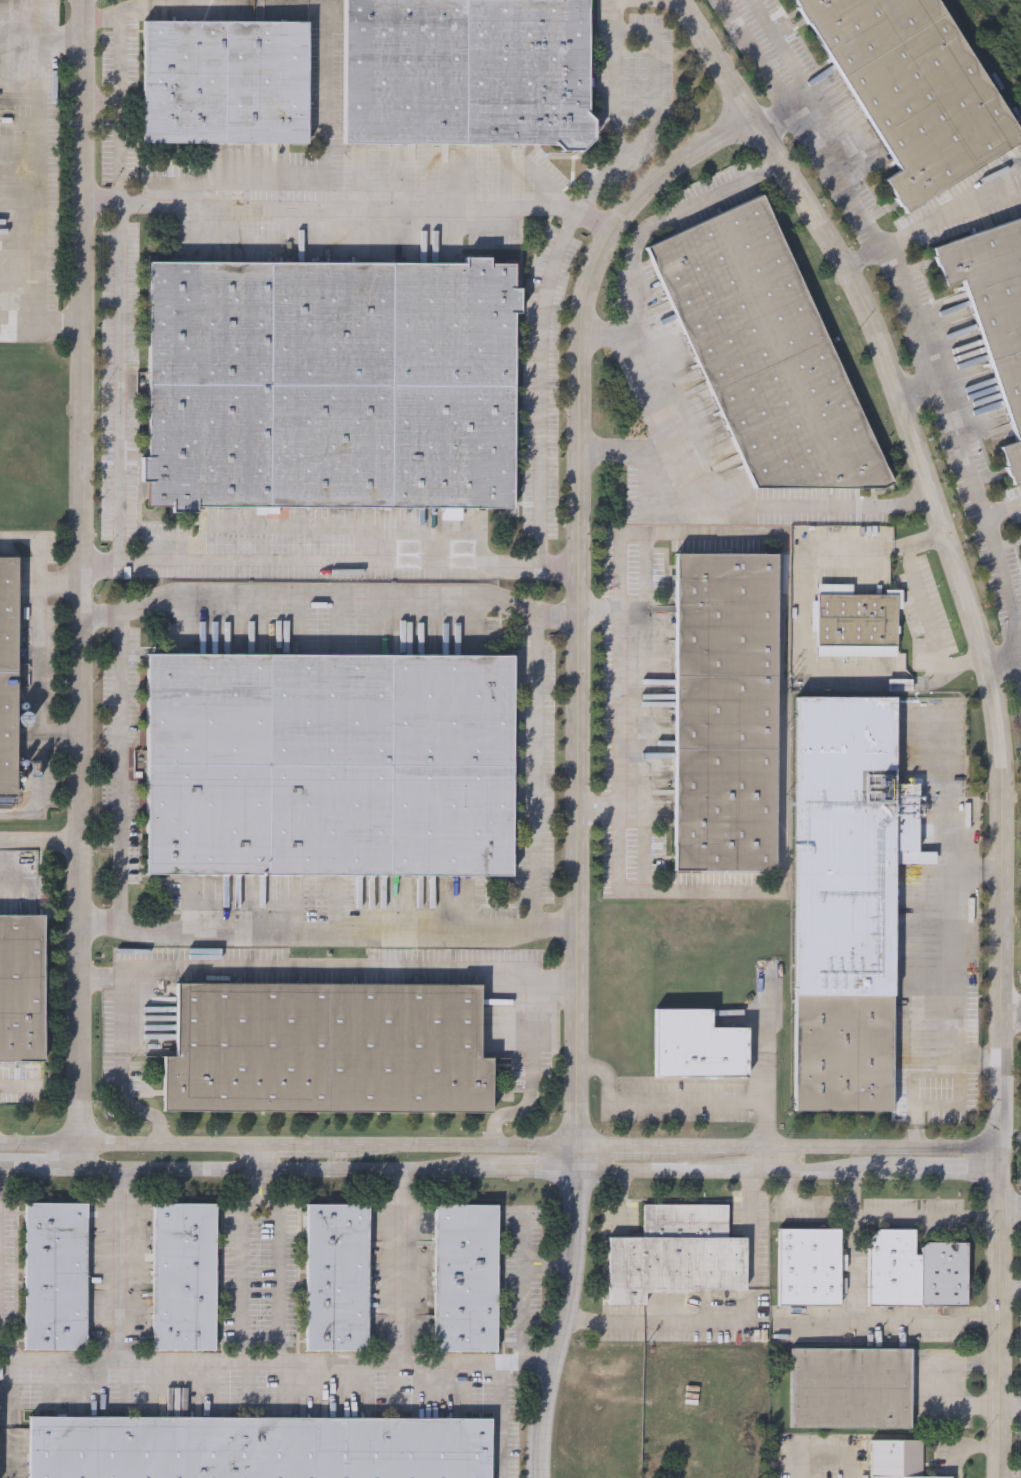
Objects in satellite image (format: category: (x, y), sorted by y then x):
building: (179, 1)
road: (259, 6)
road: (215, 12)
road: (612, 15)
road: (101, 20)
road: (41, 38)
road: (653, 48)
road: (757, 51)
road: (795, 71)
building: (472, 77)
building: (230, 85)
building: (913, 89)
road: (100, 102)
road: (120, 112)
road: (326, 141)
building: (6, 145)
road: (845, 170)
road: (40, 181)
road: (100, 204)
road: (349, 207)
road: (955, 208)
building: (6, 215)
road: (593, 219)
road: (633, 271)
road: (907, 286)
building: (993, 313)
road: (61, 323)
road: (26, 335)
road: (605, 336)
building: (772, 359)
building: (339, 393)
road: (976, 489)
road: (741, 506)
road: (1003, 511)
road: (39, 543)
road: (329, 559)
road: (60, 584)
road: (81, 584)
road: (802, 588)
road: (349, 591)
road: (577, 593)
road: (599, 613)
building: (856, 620)
road: (930, 626)
road: (1002, 655)
building: (7, 678)
road: (993, 703)
building: (724, 711)
road: (38, 715)
road: (620, 715)
road: (121, 746)
road: (536, 768)
building: (337, 775)
road: (597, 810)
road: (946, 821)
road: (40, 841)
building: (843, 901)
road: (327, 927)
road: (324, 965)
road: (96, 980)
road: (122, 980)
road: (947, 987)
building: (23, 998)
road: (1012, 1015)
road: (120, 1016)
building: (697, 1044)
road: (530, 1048)
building: (325, 1051)
road: (765, 1059)
road: (914, 1093)
road: (680, 1102)
road: (130, 1105)
road: (128, 1145)
road: (296, 1146)
road: (455, 1146)
road: (627, 1146)
road: (840, 1148)
road: (258, 1157)
road: (577, 1157)
road: (757, 1159)
road: (40, 1169)
road: (277, 1169)
road: (526, 1169)
road: (652, 1169)
road: (742, 1171)
road: (827, 1171)
road: (950, 1171)
road: (787, 1189)
road: (857, 1191)
road: (621, 1200)
road: (1011, 1203)
road: (888, 1221)
building: (676, 1254)
road: (550, 1256)
road: (277, 1260)
road: (120, 1264)
road: (401, 1266)
building: (809, 1266)
road: (549, 1267)
building: (915, 1269)
road: (239, 1274)
building: (56, 1275)
building: (185, 1275)
building: (338, 1276)
building: (467, 1276)
road: (524, 1287)
road: (852, 1292)
road: (726, 1317)
road: (565, 1324)
road: (886, 1328)
road: (185, 1361)
road: (958, 1379)
building: (850, 1387)
road: (1010, 1406)
building: (259, 1448)
road: (966, 1448)
road: (825, 1449)
building: (896, 1459)

